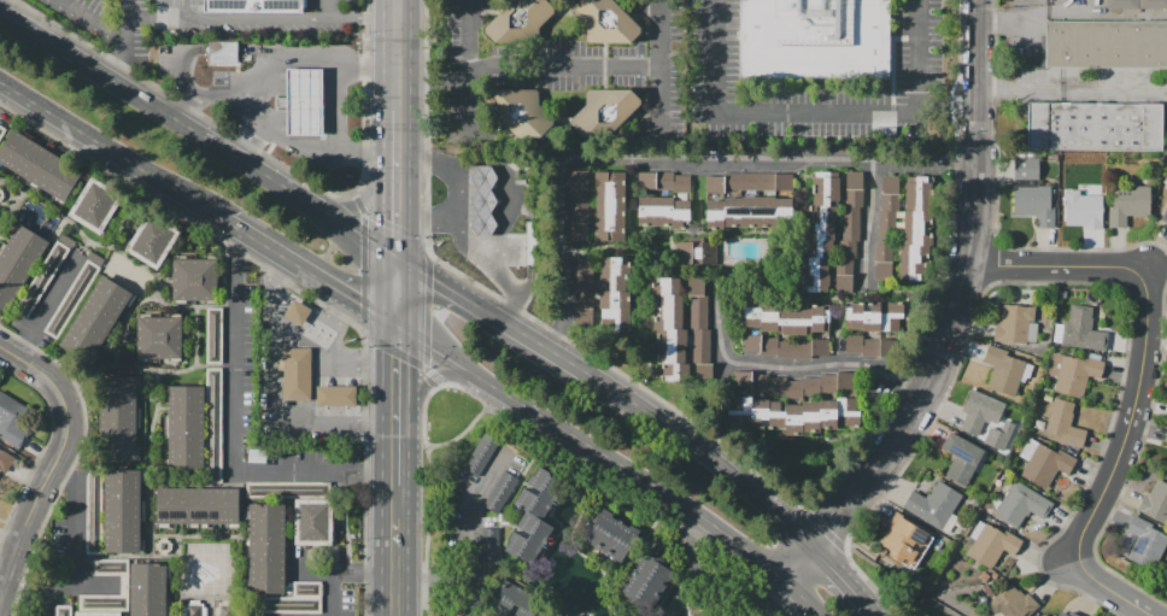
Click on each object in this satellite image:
building: (1121, 4)
building: (1153, 4)
building: (257, 5)
road: (330, 8)
road: (175, 10)
road: (1071, 13)
road: (252, 18)
road: (93, 19)
road: (364, 19)
building: (520, 22)
building: (605, 22)
road: (399, 30)
building: (816, 39)
road: (125, 40)
building: (1107, 45)
road: (227, 49)
building: (223, 53)
road: (266, 55)
road: (914, 55)
road: (719, 58)
road: (280, 61)
road: (471, 64)
road: (527, 65)
road: (658, 70)
road: (178, 72)
road: (1, 86)
road: (399, 86)
road: (1071, 90)
building: (304, 104)
gas station: (304, 104)
road: (157, 106)
building: (520, 112)
building: (605, 112)
road: (815, 113)
road: (256, 124)
building: (1095, 127)
building: (1, 130)
road: (398, 135)
road: (105, 146)
road: (326, 146)
road: (265, 154)
road: (678, 164)
building: (39, 165)
building: (1026, 169)
road: (482, 190)
road: (508, 199)
building: (663, 199)
building: (483, 201)
gas station: (483, 201)
building: (747, 201)
road: (365, 203)
building: (1033, 204)
building: (1128, 204)
building: (94, 205)
road: (521, 205)
building: (597, 206)
road: (398, 207)
building: (1083, 207)
road: (482, 213)
building: (1165, 216)
park: (1, 218)
road: (427, 221)
road: (872, 221)
road: (458, 227)
road: (356, 229)
building: (904, 229)
building: (832, 231)
traffic signals: (398, 233)
road: (483, 236)
building: (66, 240)
building: (152, 240)
building: (529, 245)
road: (529, 245)
building: (696, 253)
building: (95, 258)
road: (362, 262)
building: (18, 263)
road: (304, 269)
park: (127, 274)
traffic signals: (432, 278)
building: (41, 280)
building: (194, 280)
road: (524, 282)
road: (303, 291)
road: (398, 291)
road: (960, 292)
building: (603, 293)
building: (71, 299)
road: (48, 304)
traffic signals: (360, 304)
building: (297, 313)
road: (493, 316)
building: (874, 316)
road: (332, 318)
building: (785, 318)
building: (96, 319)
building: (1015, 324)
building: (681, 330)
building: (1081, 330)
road: (1144, 330)
building: (213, 335)
building: (159, 336)
road: (307, 336)
building: (868, 346)
building: (786, 347)
road: (404, 357)
traffic signals: (398, 358)
road: (33, 366)
road: (790, 366)
building: (1009, 369)
building: (1073, 372)
building: (295, 374)
road: (432, 376)
building: (794, 383)
road: (467, 392)
road: (327, 395)
road: (346, 395)
building: (335, 397)
road: (398, 404)
building: (1044, 407)
building: (980, 413)
building: (793, 415)
building: (122, 417)
building: (11, 420)
building: (1065, 424)
building: (184, 426)
building: (213, 426)
road: (278, 427)
road: (234, 430)
building: (1002, 439)
building: (1165, 439)
road: (42, 447)
road: (594, 448)
road: (704, 452)
building: (480, 454)
road: (75, 457)
building: (961, 458)
building: (5, 460)
building: (1046, 465)
building: (289, 491)
building: (500, 492)
building: (539, 493)
road: (39, 498)
building: (1155, 503)
building: (932, 505)
building: (1021, 505)
building: (197, 506)
building: (94, 511)
building: (122, 512)
road: (76, 520)
building: (313, 522)
road: (473, 528)
road: (426, 530)
building: (538, 538)
building: (610, 538)
building: (903, 538)
building: (489, 544)
building: (991, 544)
building: (1145, 544)
building: (266, 547)
road: (395, 550)
road: (801, 559)
building: (111, 567)
road: (344, 573)
road: (841, 580)
road: (1101, 583)
road: (60, 585)
building: (647, 585)
building: (147, 589)
road: (433, 591)
park: (902, 591)
road: (332, 594)
road: (807, 596)
building: (294, 599)
road: (45, 602)
building: (514, 602)
building: (104, 603)
building: (1011, 603)
building: (193, 608)
building: (63, 610)
building: (224, 610)
road: (1147, 612)
building: (545, 614)
building: (1067, 614)
building: (104, 615)
building: (1043, 615)
building: (1052, 615)

